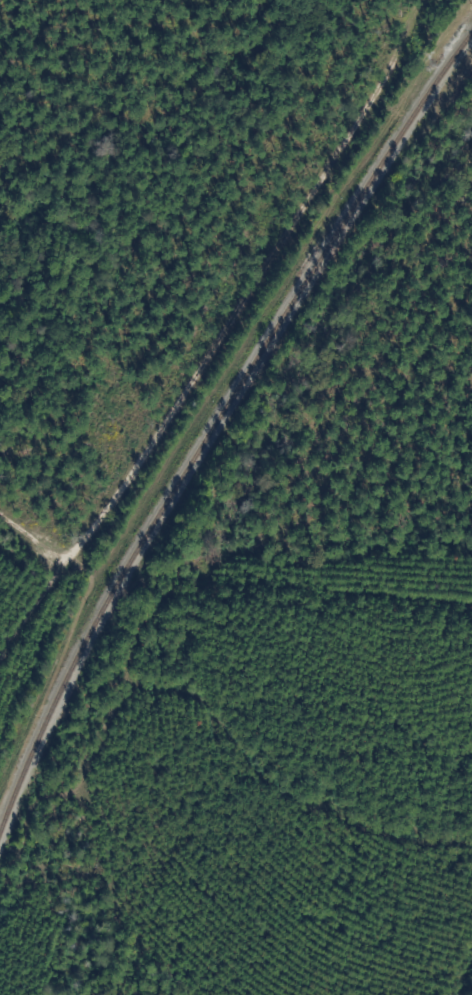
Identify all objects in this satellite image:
railway: (214, 421)

